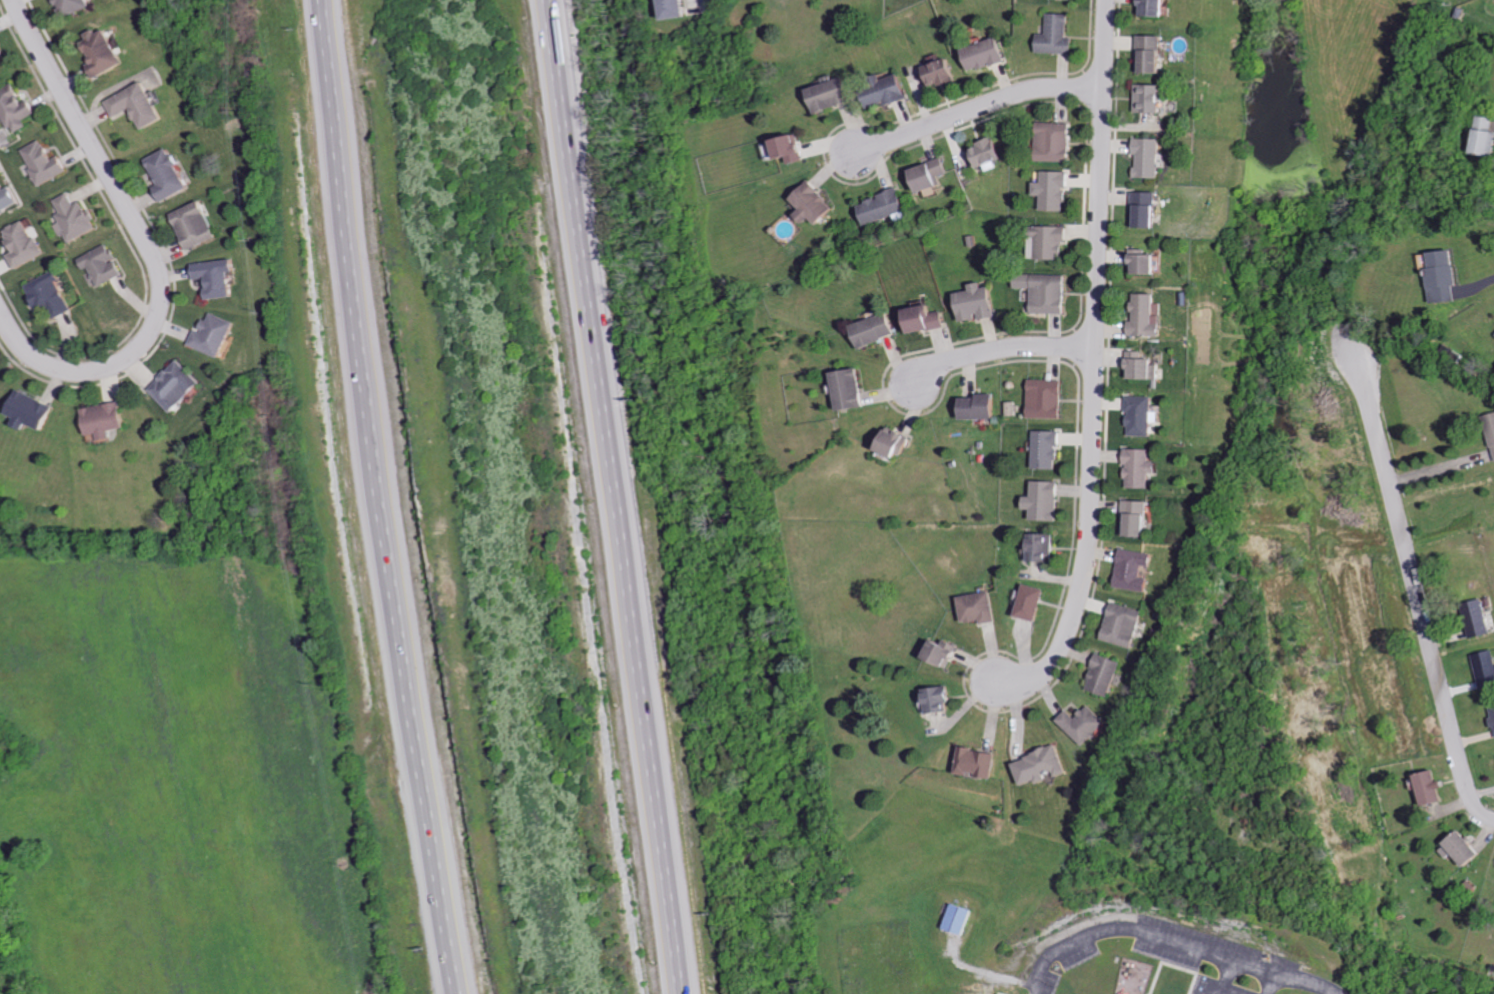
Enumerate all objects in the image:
building: (1075, 0)
building: (73, 6)
building: (673, 7)
building: (1151, 7)
building: (1055, 31)
building: (104, 51)
building: (985, 52)
building: (1150, 52)
building: (2, 55)
building: (940, 74)
building: (886, 90)
building: (831, 97)
building: (1147, 98)
building: (140, 105)
road: (976, 106)
building: (16, 108)
building: (1487, 135)
building: (1055, 139)
building: (788, 151)
building: (983, 153)
building: (1146, 157)
building: (45, 162)
building: (170, 174)
building: (927, 174)
building: (1051, 187)
building: (7, 198)
building: (813, 203)
building: (883, 206)
building: (1143, 207)
building: (76, 218)
building: (197, 224)
building: (1049, 235)
building: (25, 243)
road: (145, 246)
building: (1140, 260)
building: (104, 265)
building: (219, 276)
building: (1445, 276)
building: (1048, 288)
building: (51, 294)
building: (977, 303)
building: (1144, 315)
building: (926, 322)
building: (874, 331)
building: (216, 334)
road: (1001, 347)
road: (1094, 365)
building: (1140, 365)
building: (180, 386)
building: (850, 392)
building: (1048, 395)
building: (978, 406)
building: (34, 411)
building: (1137, 413)
building: (1491, 426)
building: (894, 443)
building: (1045, 445)
building: (1138, 464)
road: (1437, 469)
road: (615, 496)
road: (376, 499)
building: (1044, 499)
building: (1132, 518)
building: (1040, 545)
building: (1130, 567)
road: (1415, 584)
building: (1030, 603)
building: (976, 606)
building: (1482, 618)
building: (1120, 619)
building: (941, 655)
building: (1487, 668)
building: (1101, 669)
building: (937, 702)
building: (1493, 703)
building: (1081, 719)
building: (1038, 762)
building: (975, 765)
building: (1435, 787)
road: (1488, 817)
building: (1466, 849)
building: (961, 919)
road: (1138, 932)
road: (1268, 984)
road: (1301, 984)
building: (1001, 993)

